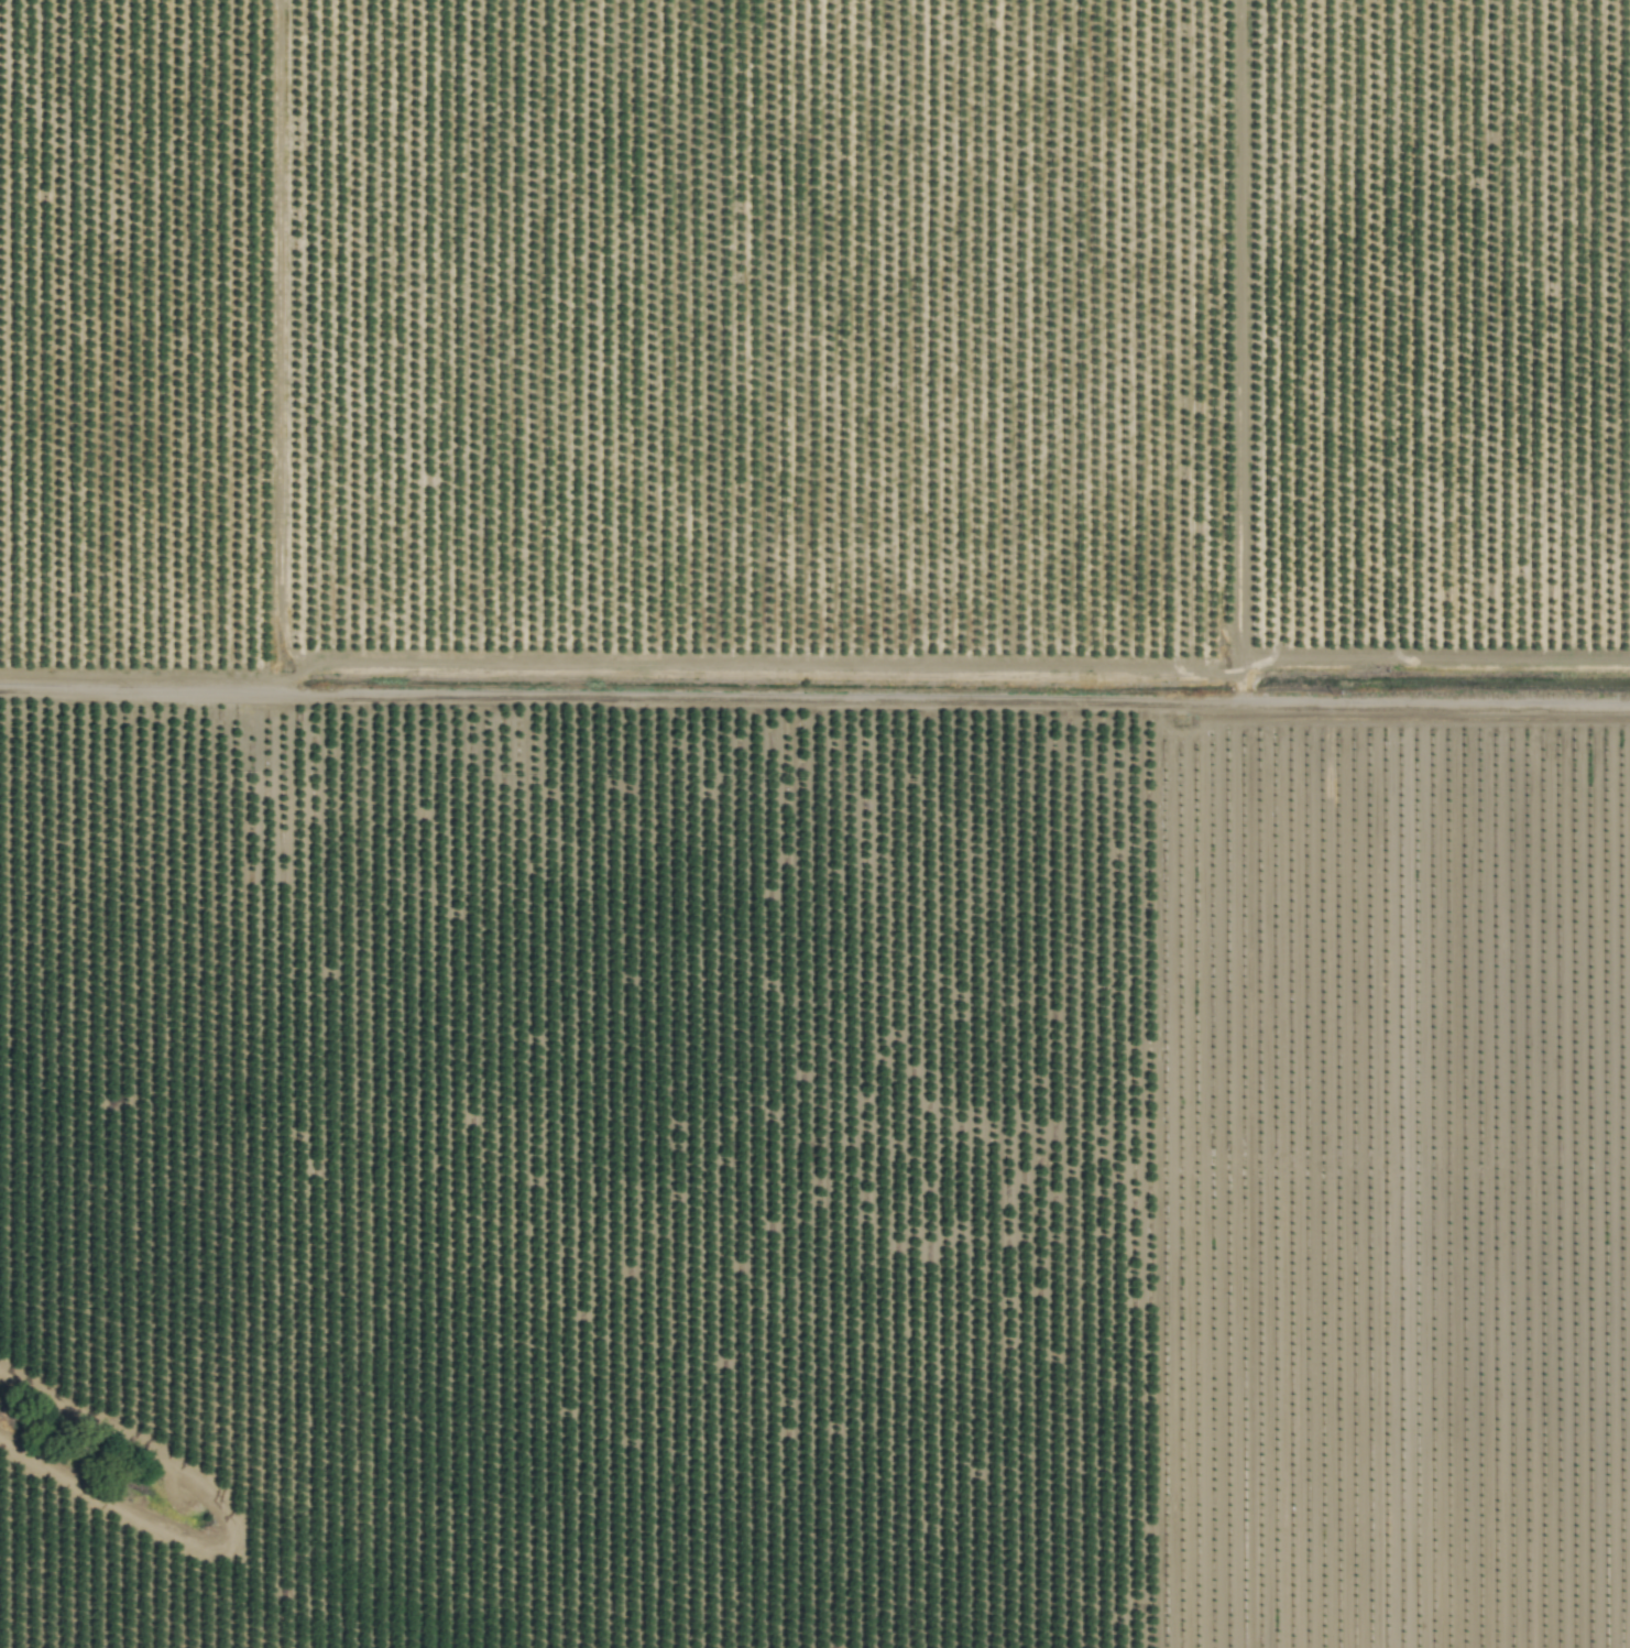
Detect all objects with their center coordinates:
road: (304, 349)
road: (1241, 353)
road: (958, 700)
road: (302, 1024)

